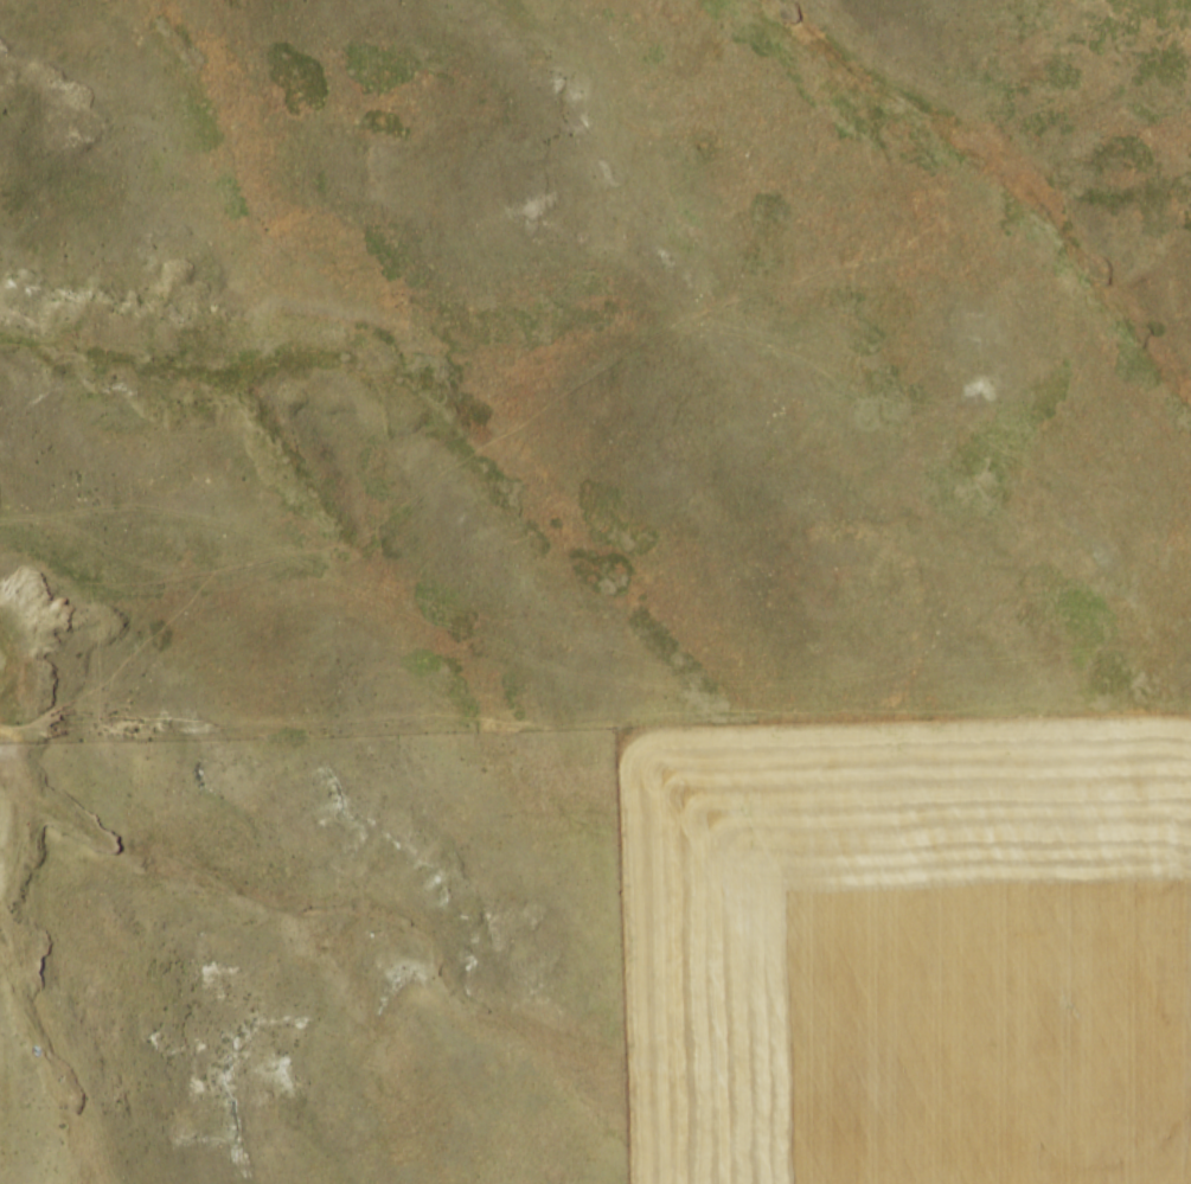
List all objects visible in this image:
crop: (904, 949)

